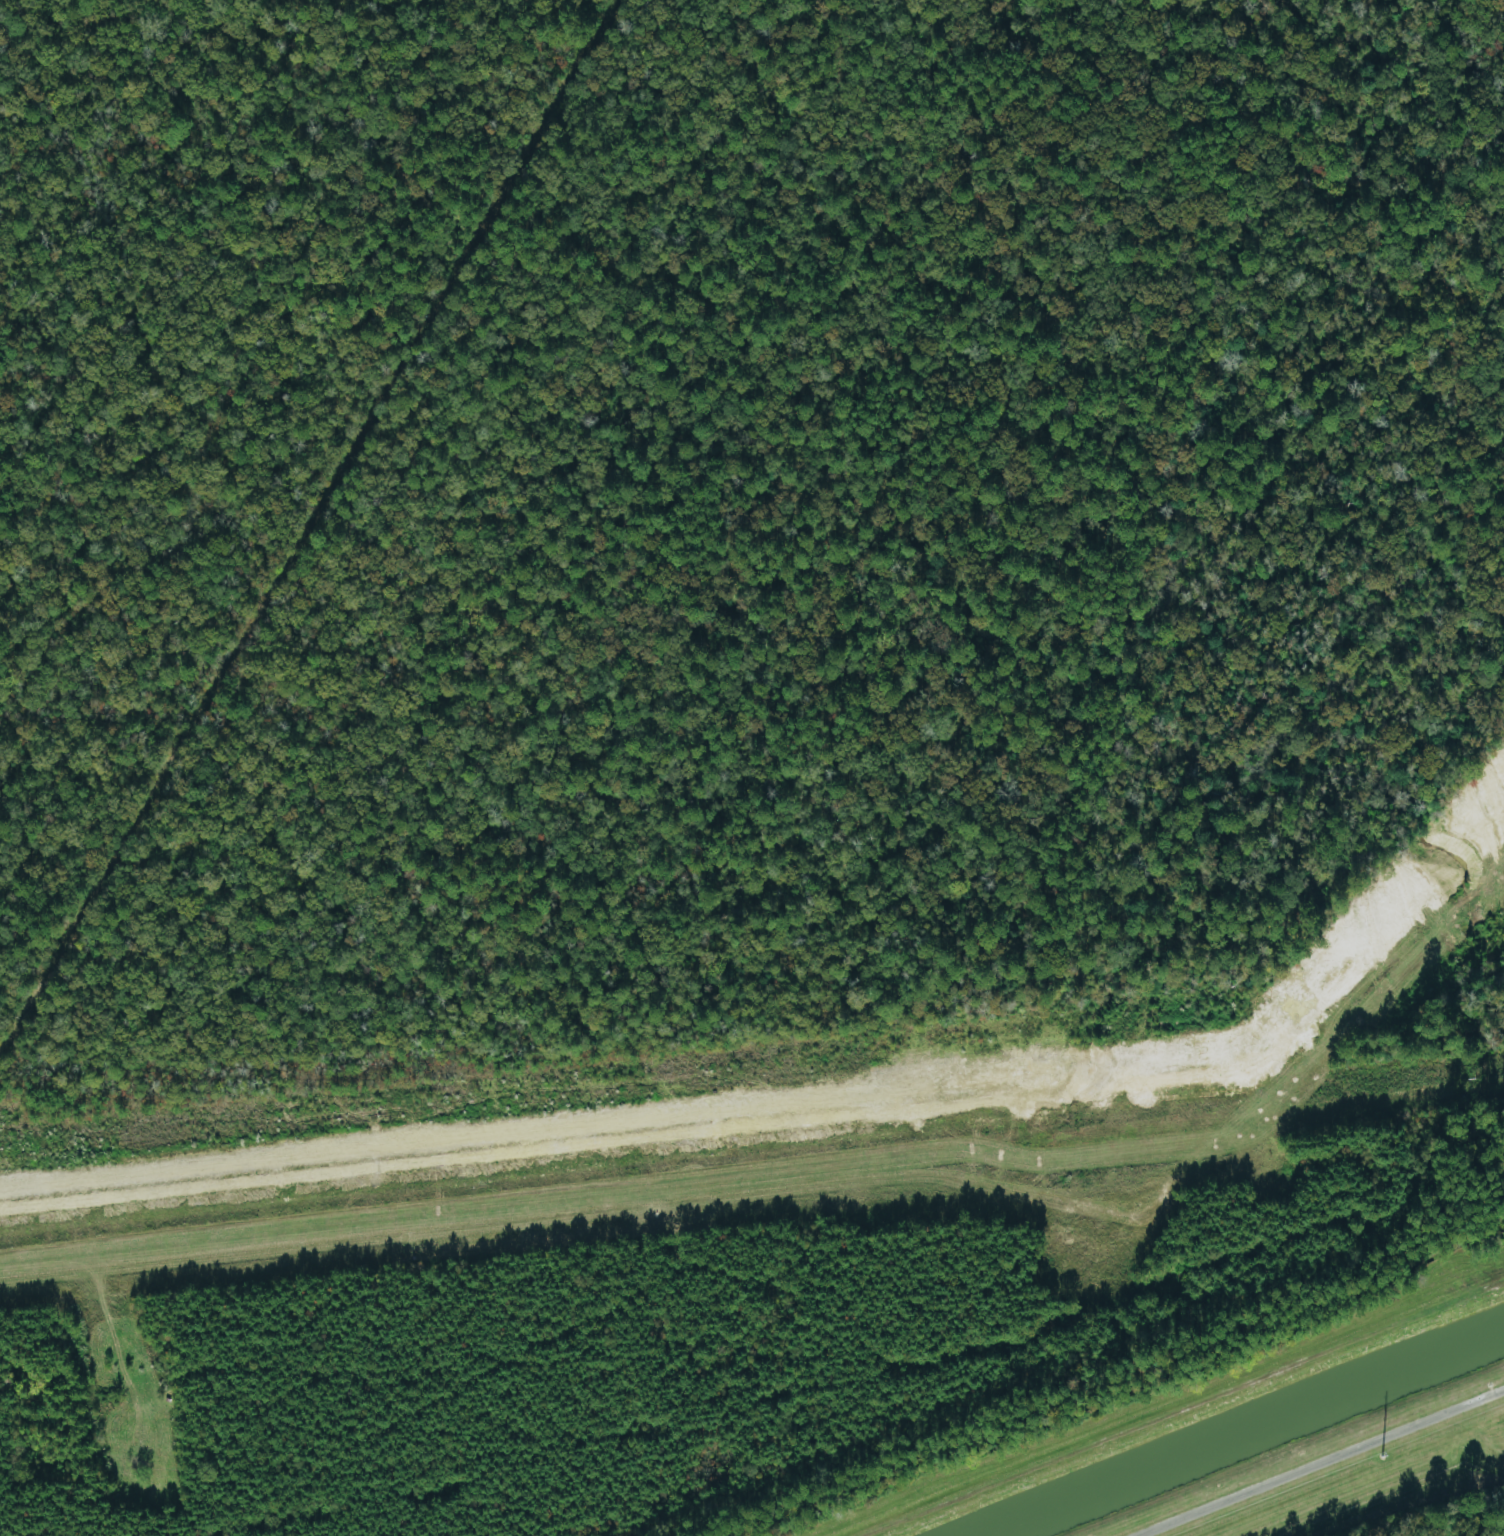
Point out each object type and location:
road: (1317, 1461)

